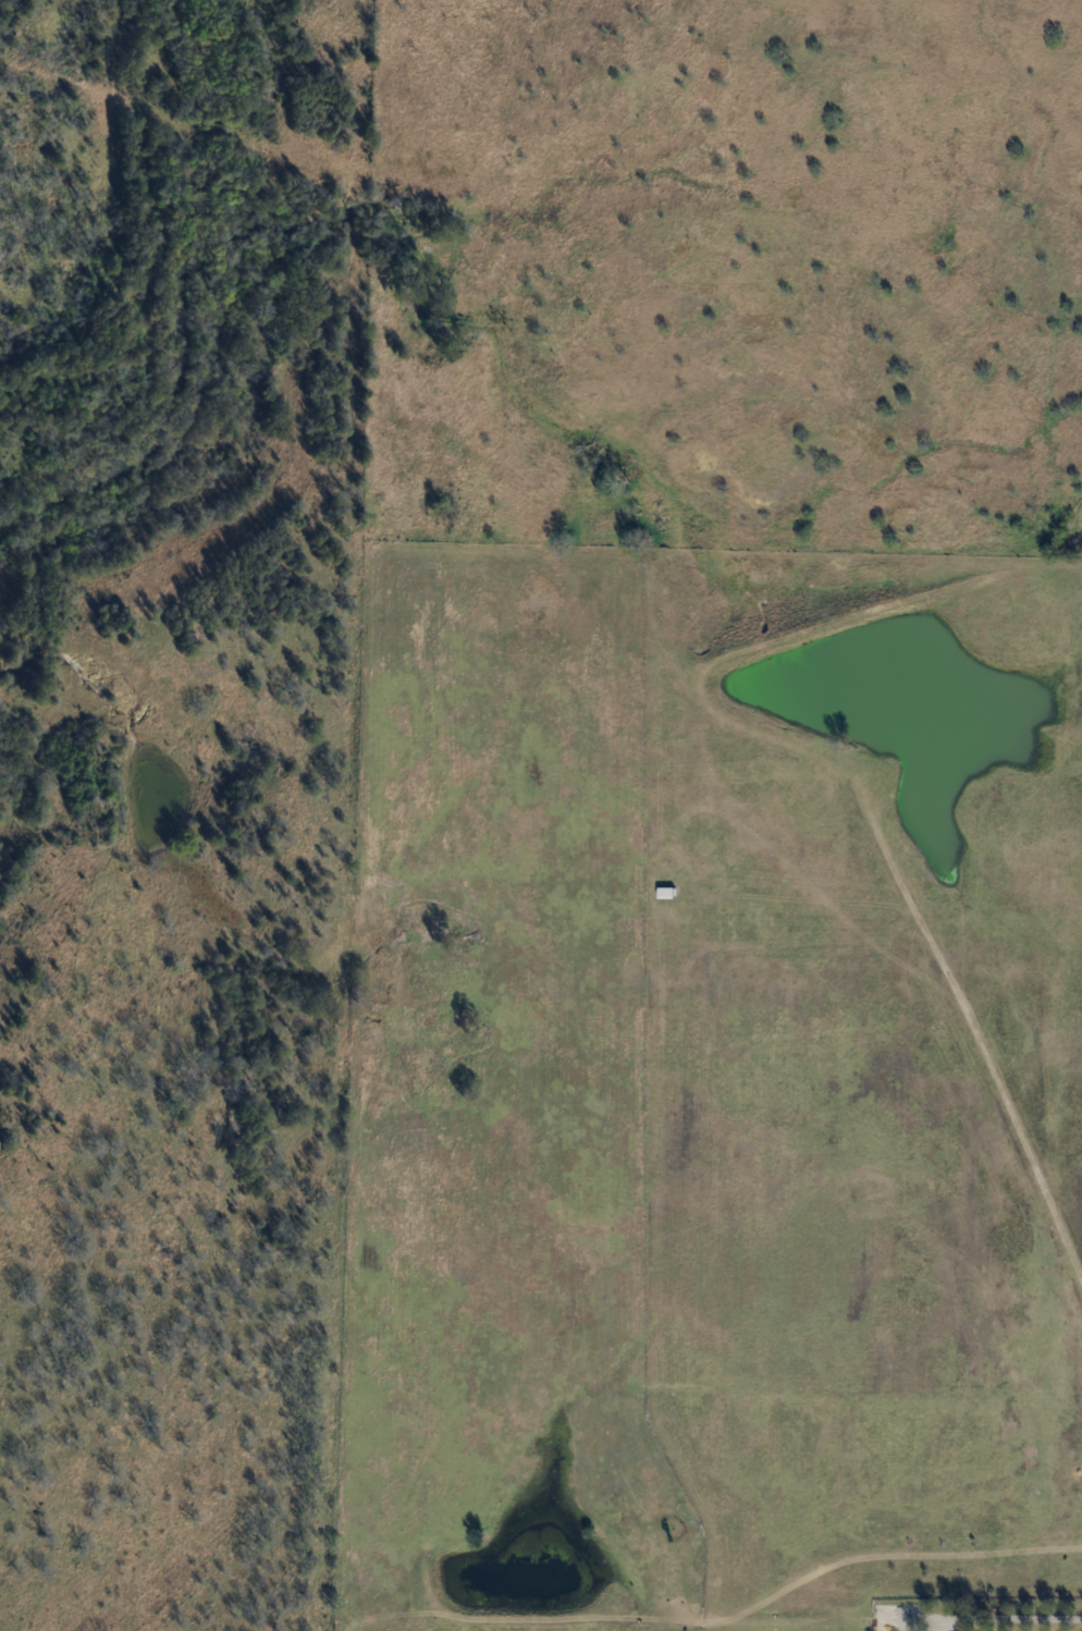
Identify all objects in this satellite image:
road: (1041, 1619)

